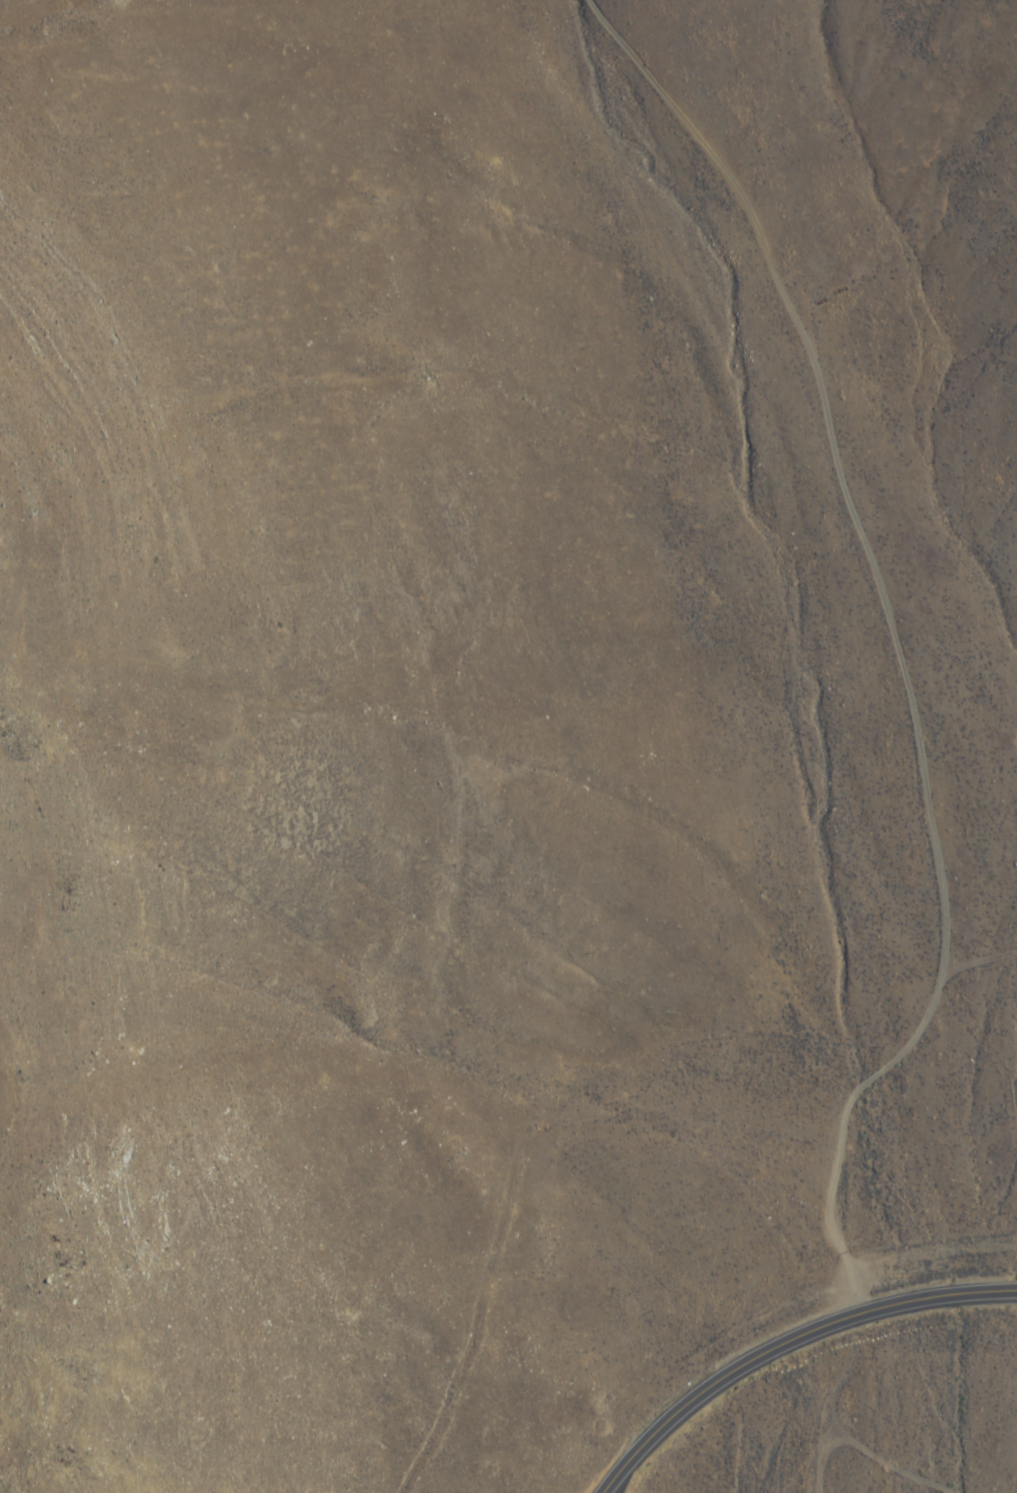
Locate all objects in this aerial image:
road: (894, 645)
road: (980, 971)
road: (789, 1343)

